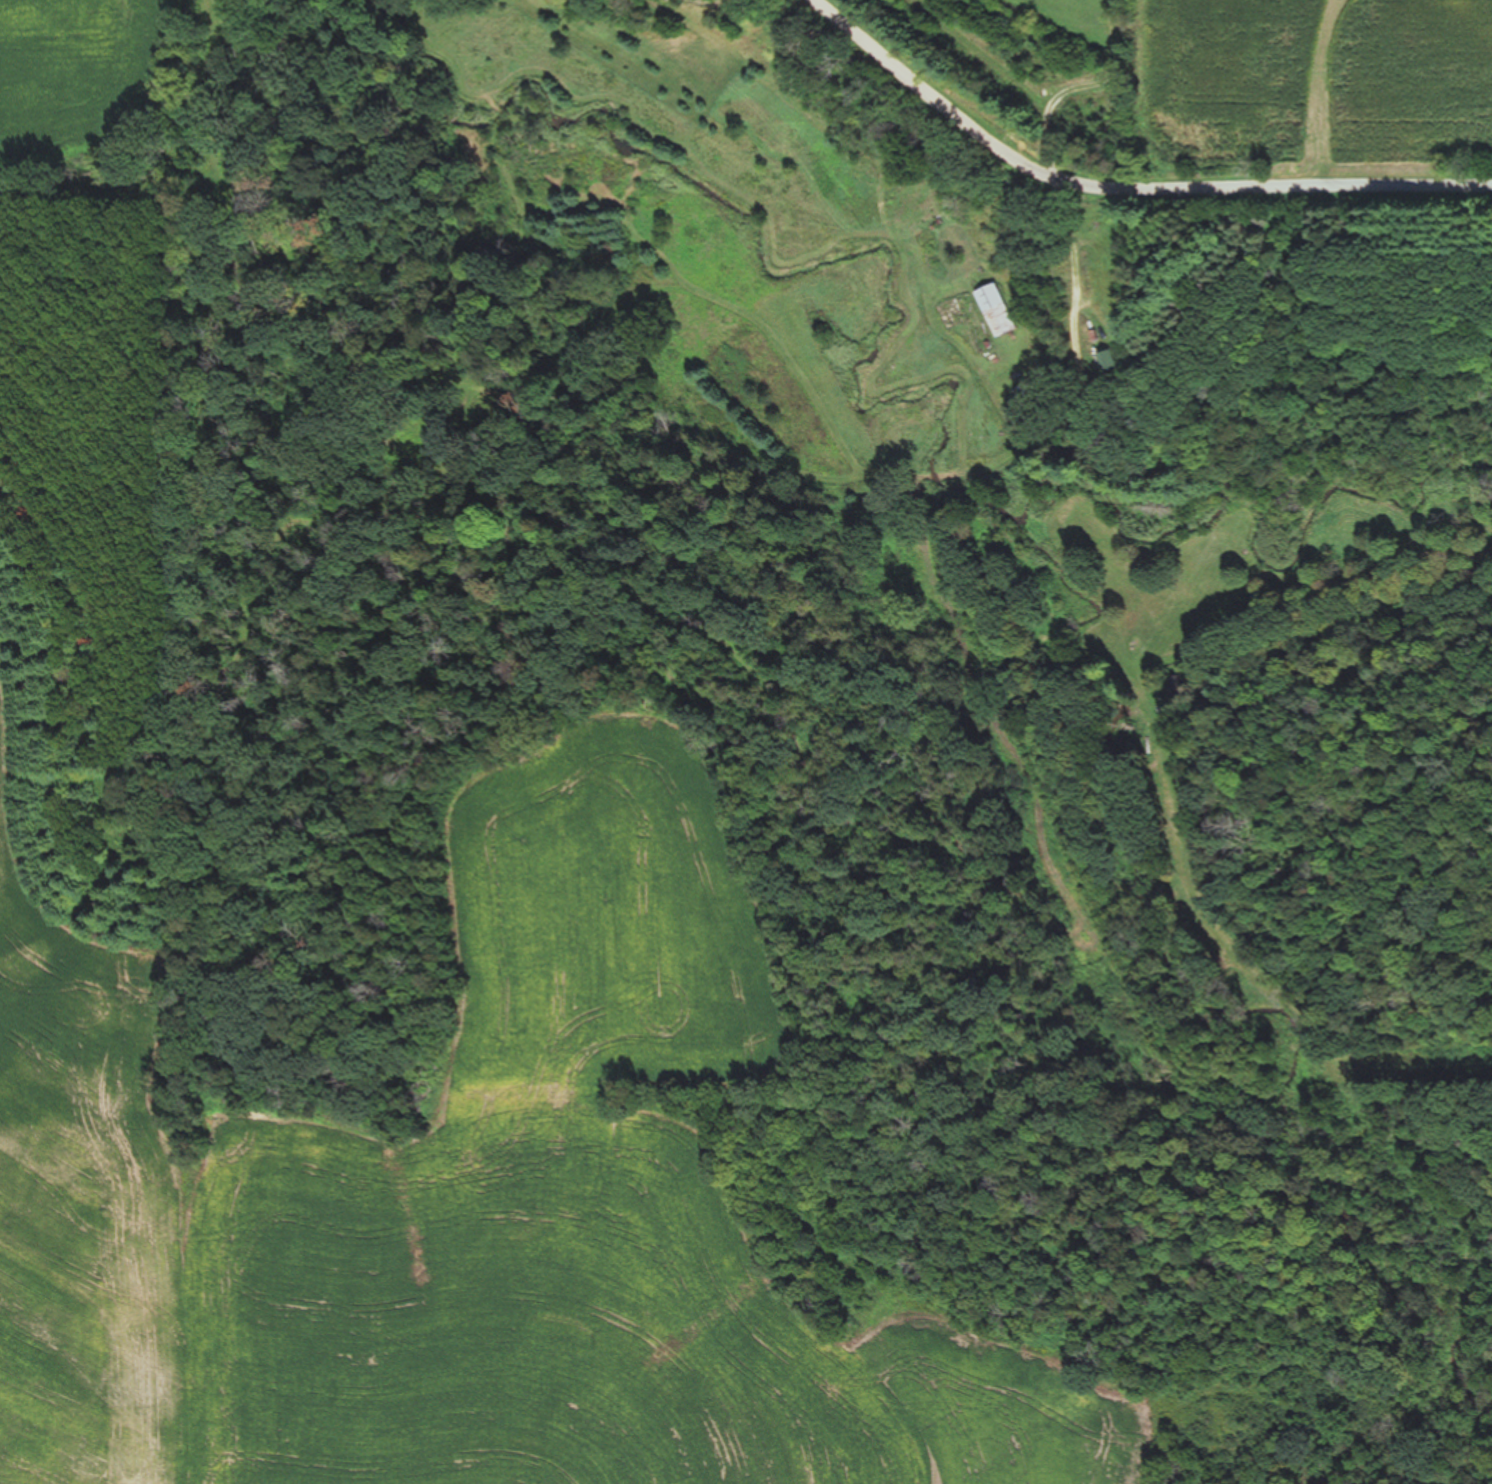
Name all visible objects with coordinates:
road: (1121, 185)
building: (997, 310)
building: (1112, 362)
building: (1023, 396)

